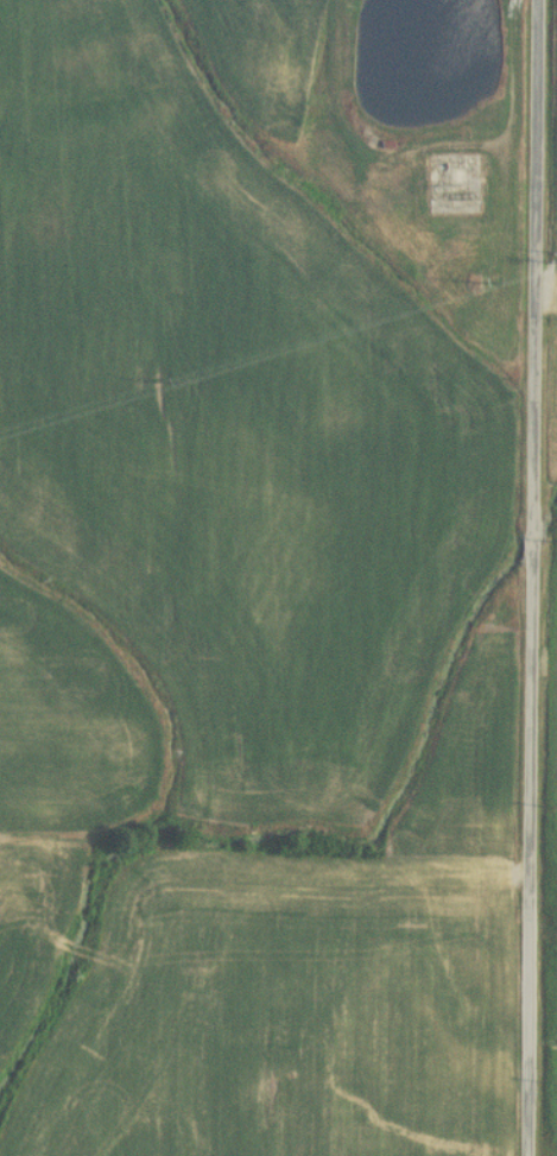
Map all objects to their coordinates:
building: (382, 177)
road: (530, 577)

